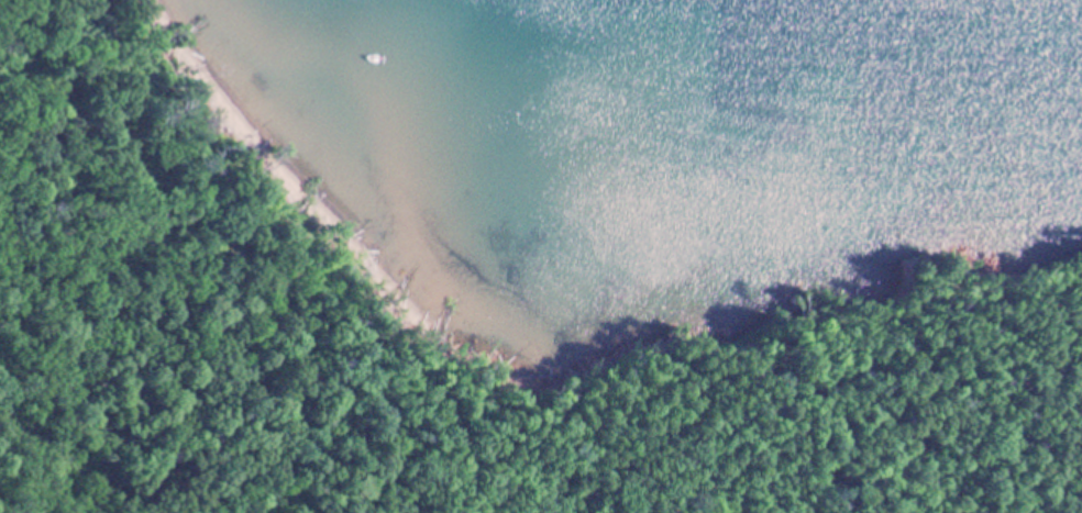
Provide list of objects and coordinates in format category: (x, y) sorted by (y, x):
road: (150, 253)

